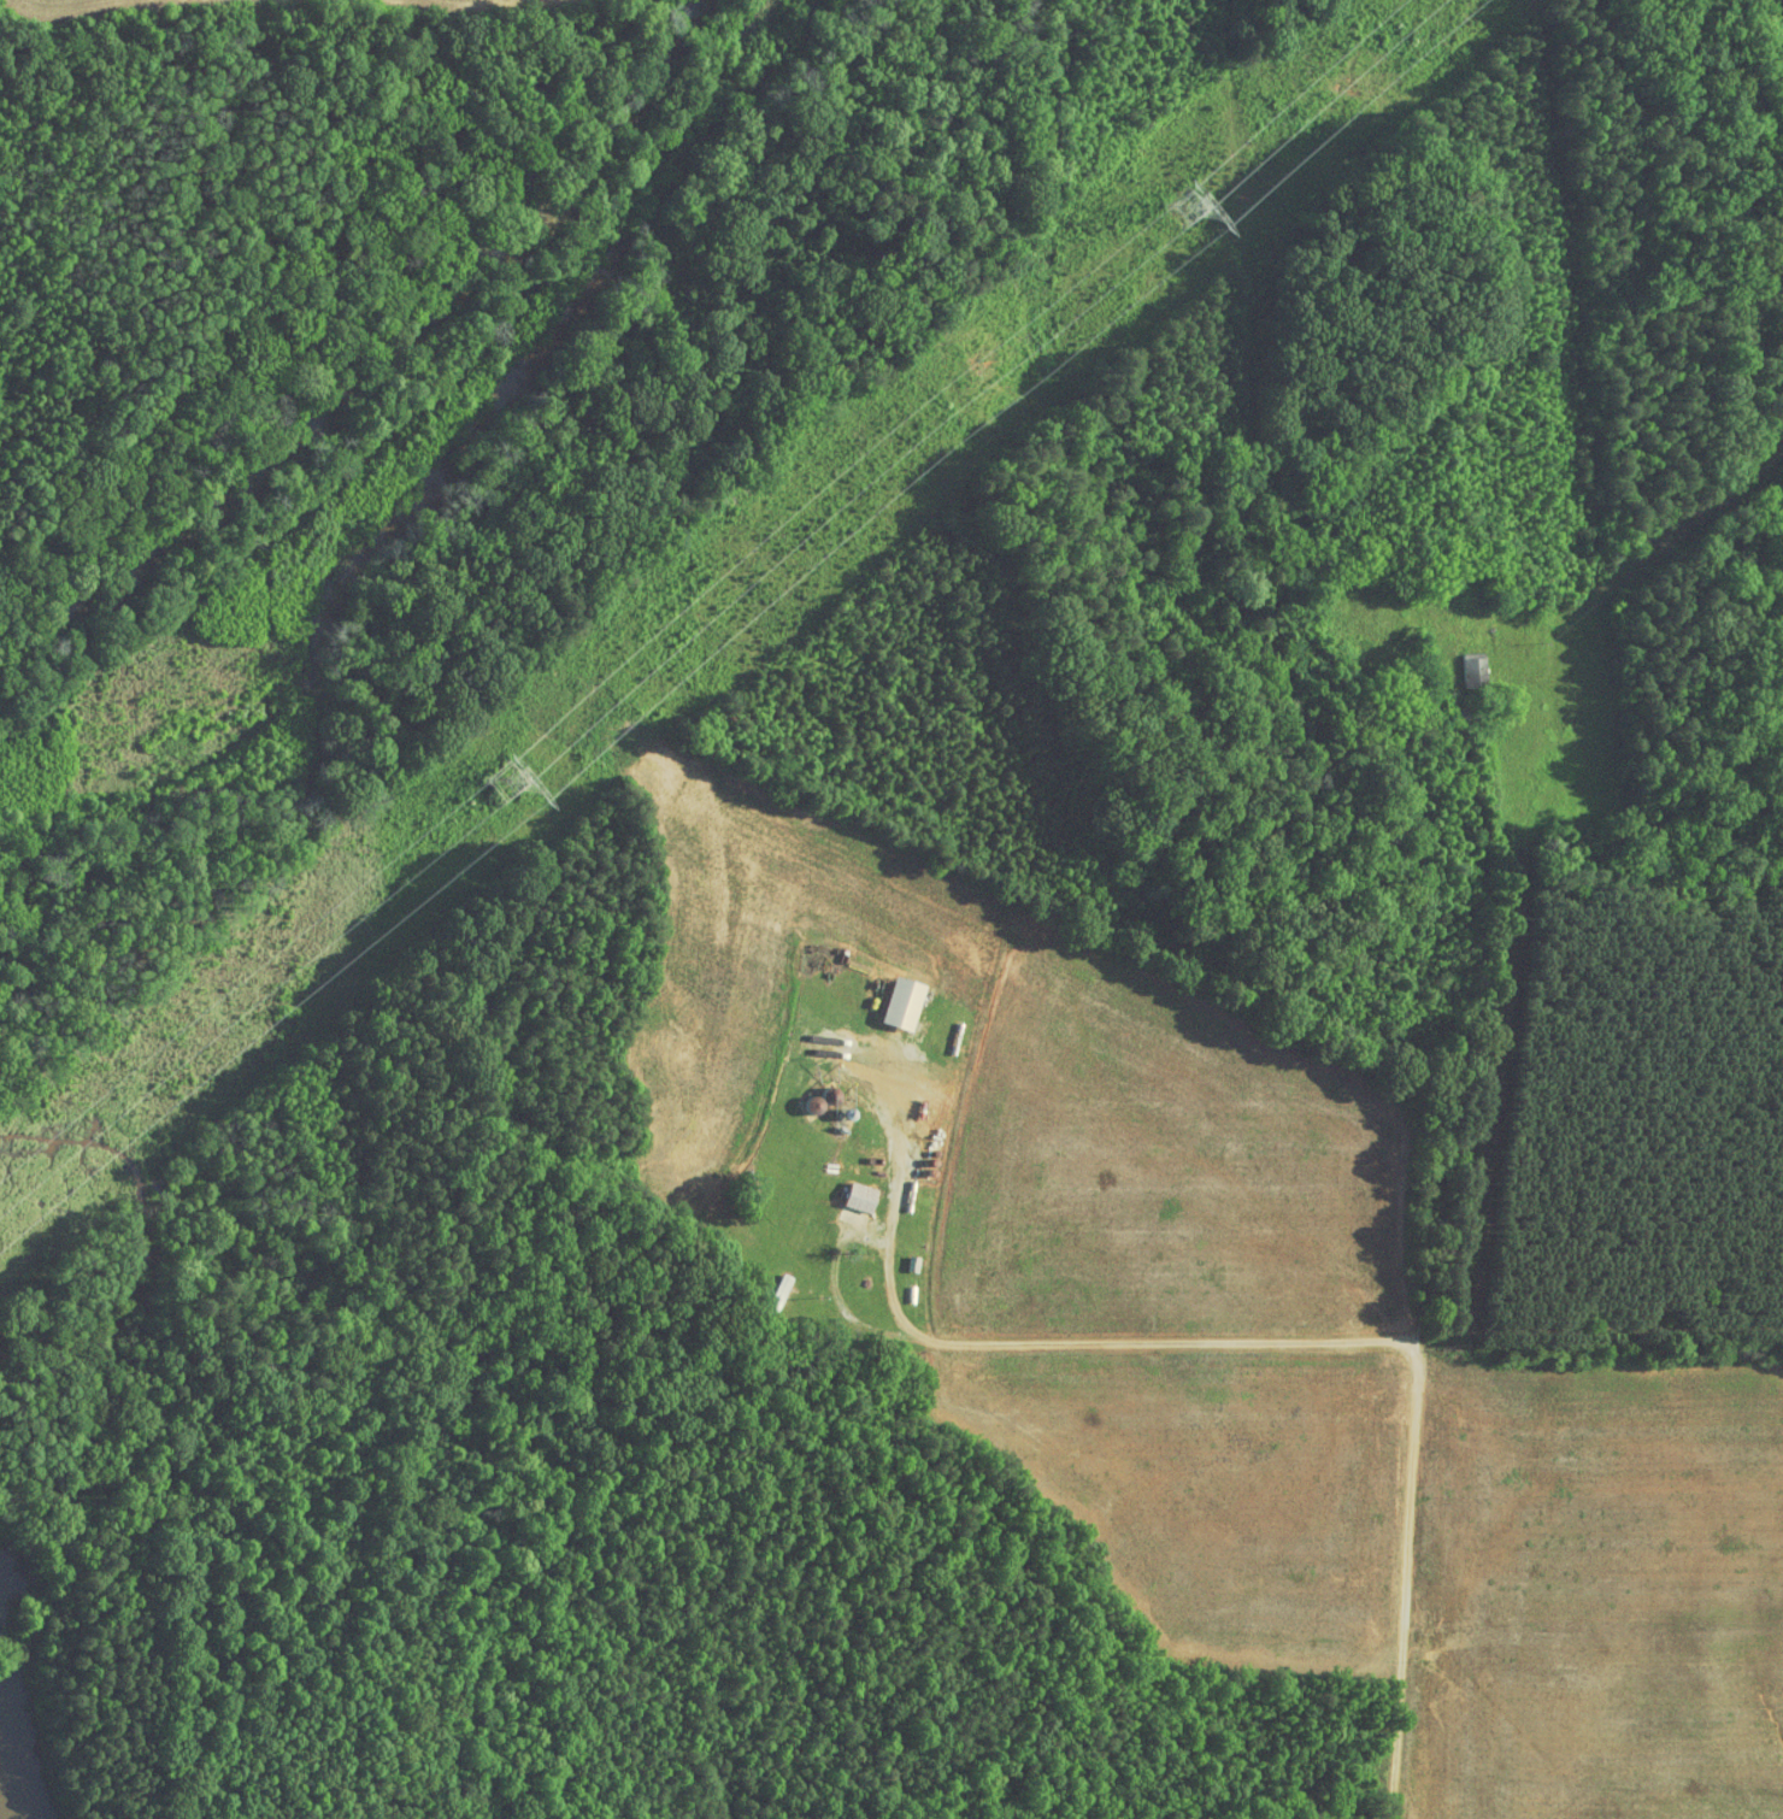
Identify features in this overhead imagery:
power tower: (1187, 216)
building: (1469, 671)
power tower: (501, 796)
building: (910, 1001)
building: (866, 1196)
road: (1419, 1265)

